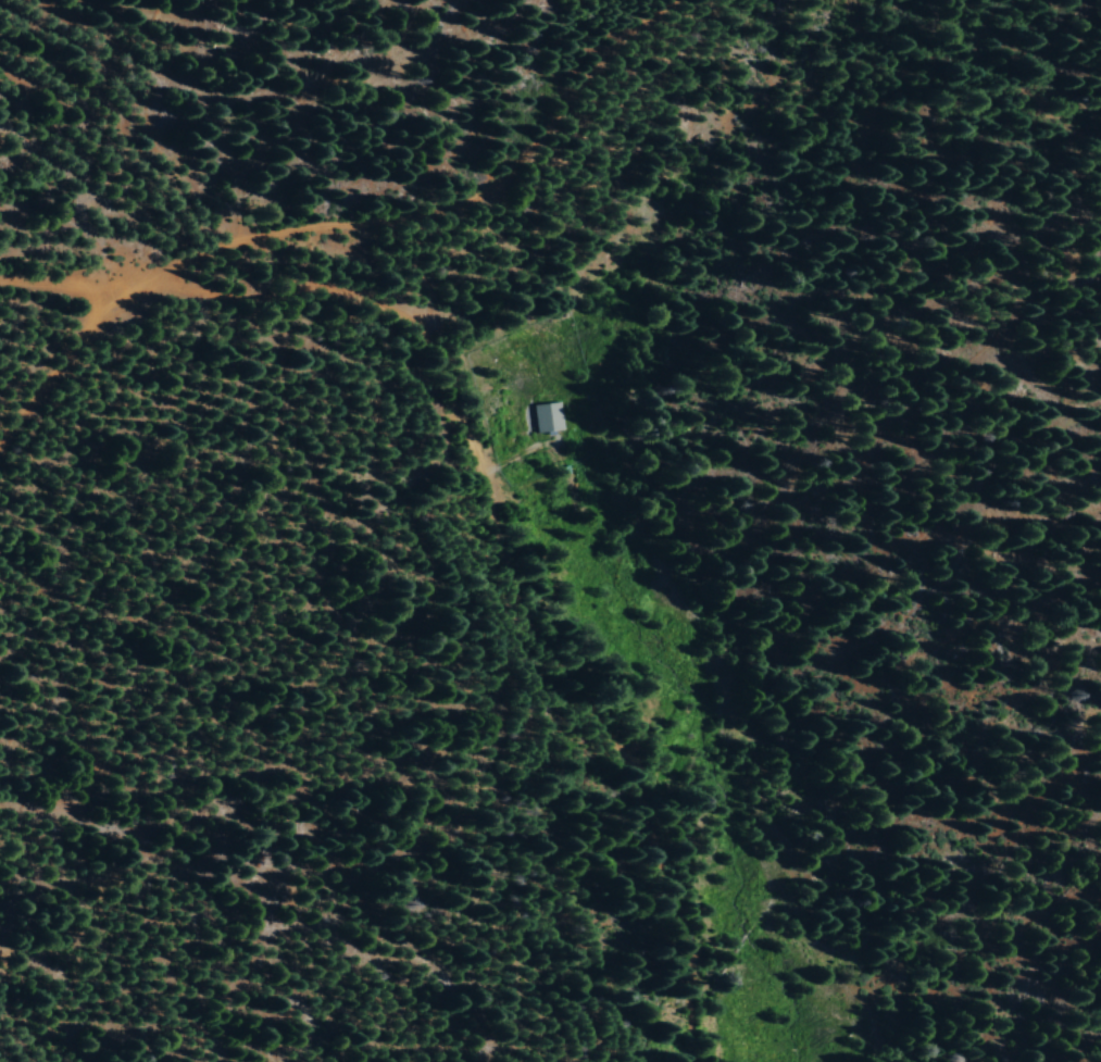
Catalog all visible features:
road: (354, 217)
road: (200, 308)
building: (550, 416)

